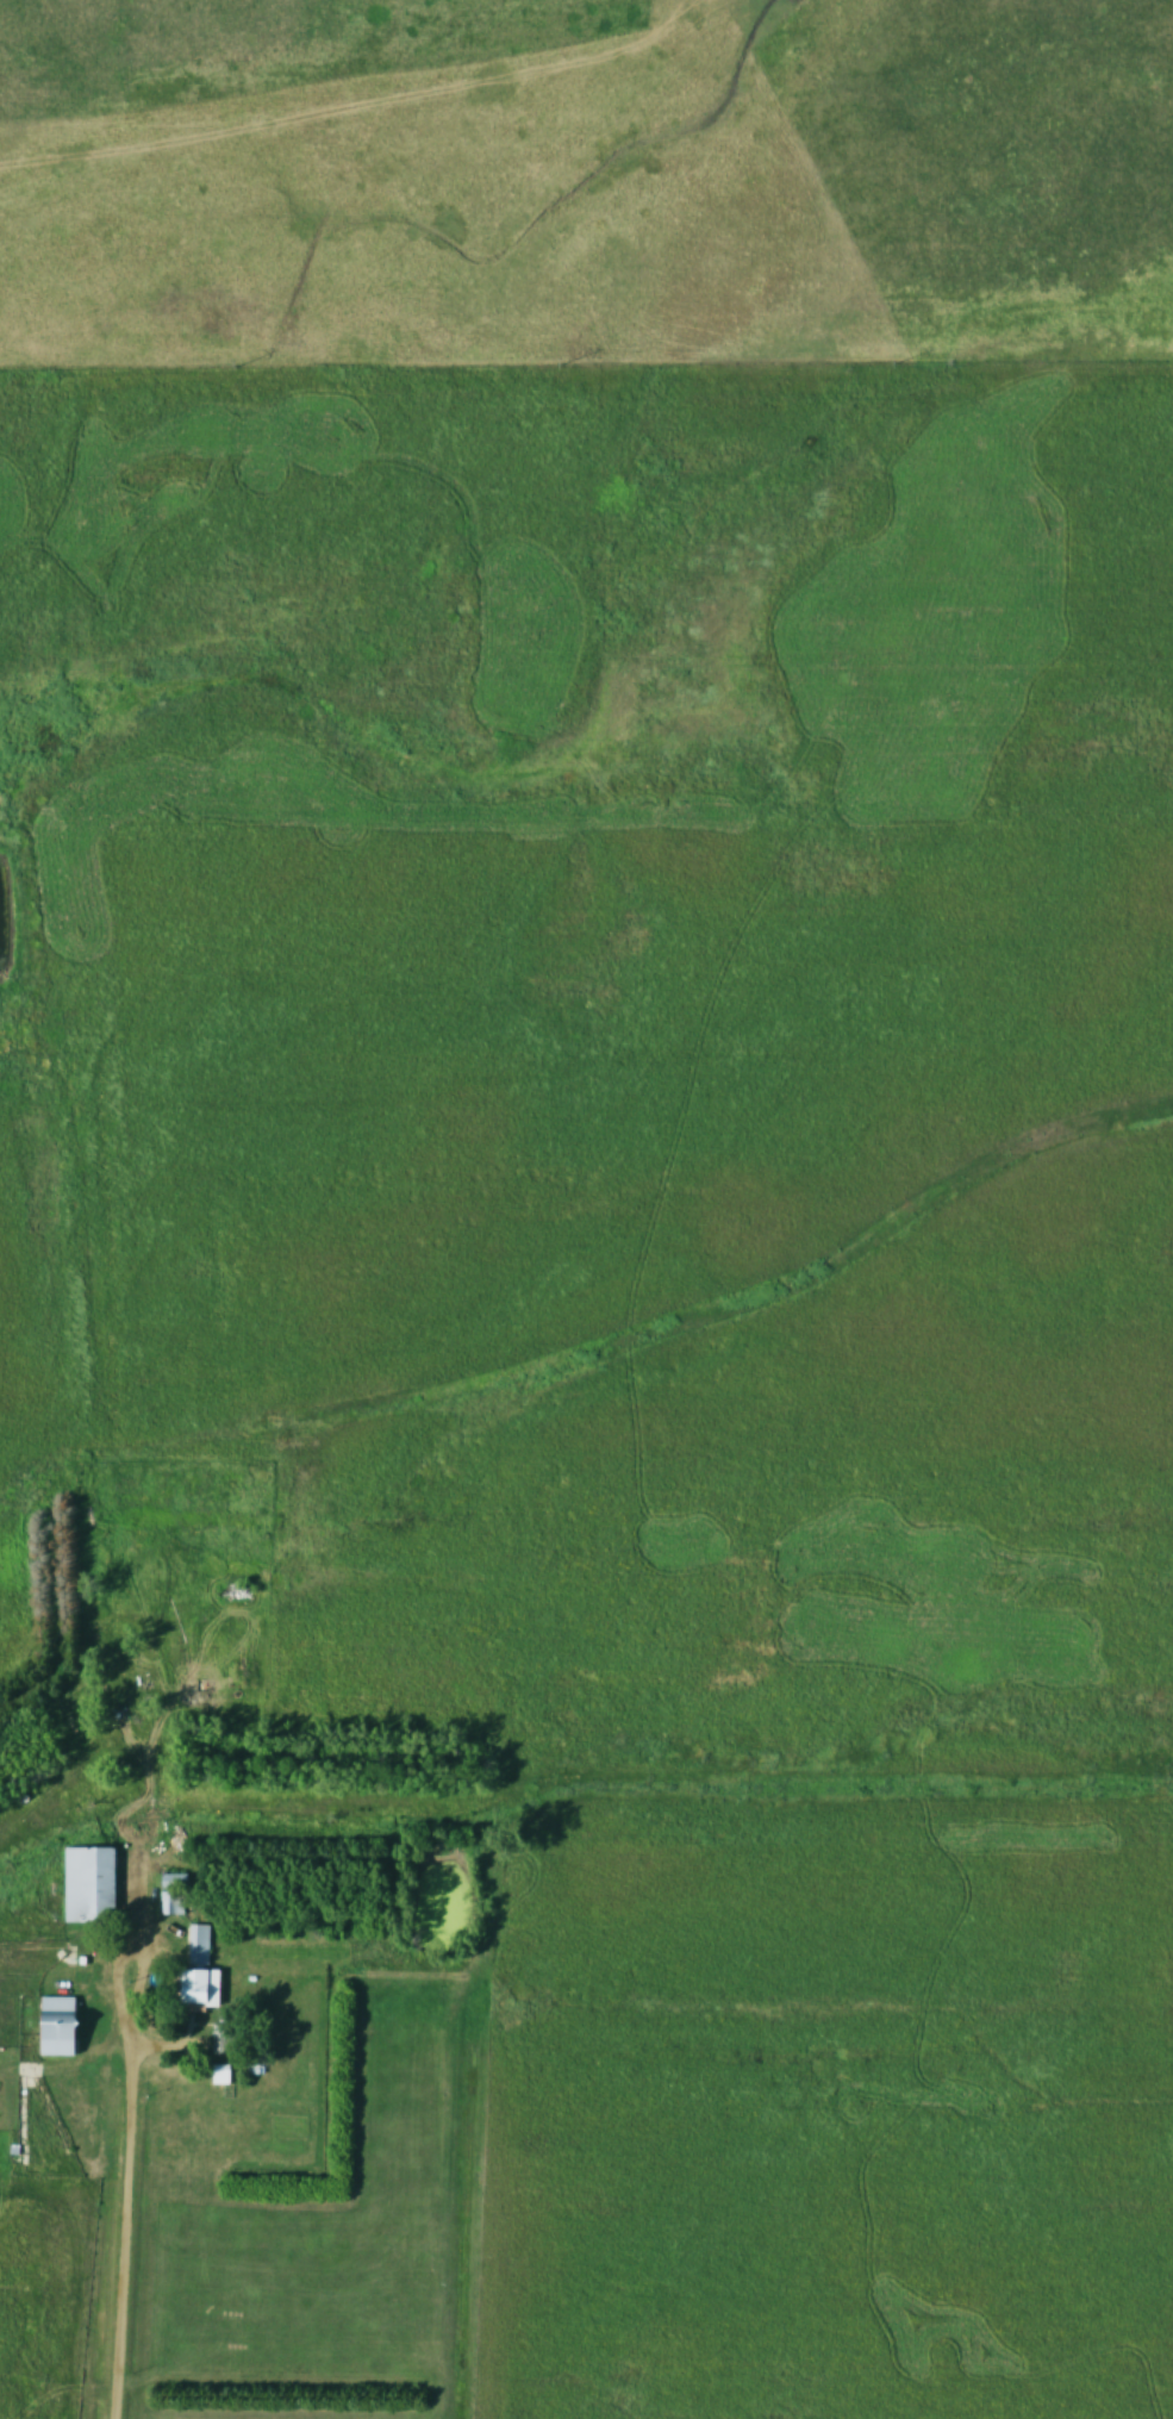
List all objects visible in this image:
building: (87, 1885)
building: (171, 1895)
building: (196, 1972)
road: (125, 2018)
building: (54, 2027)
building: (219, 2076)
road: (126, 2238)

